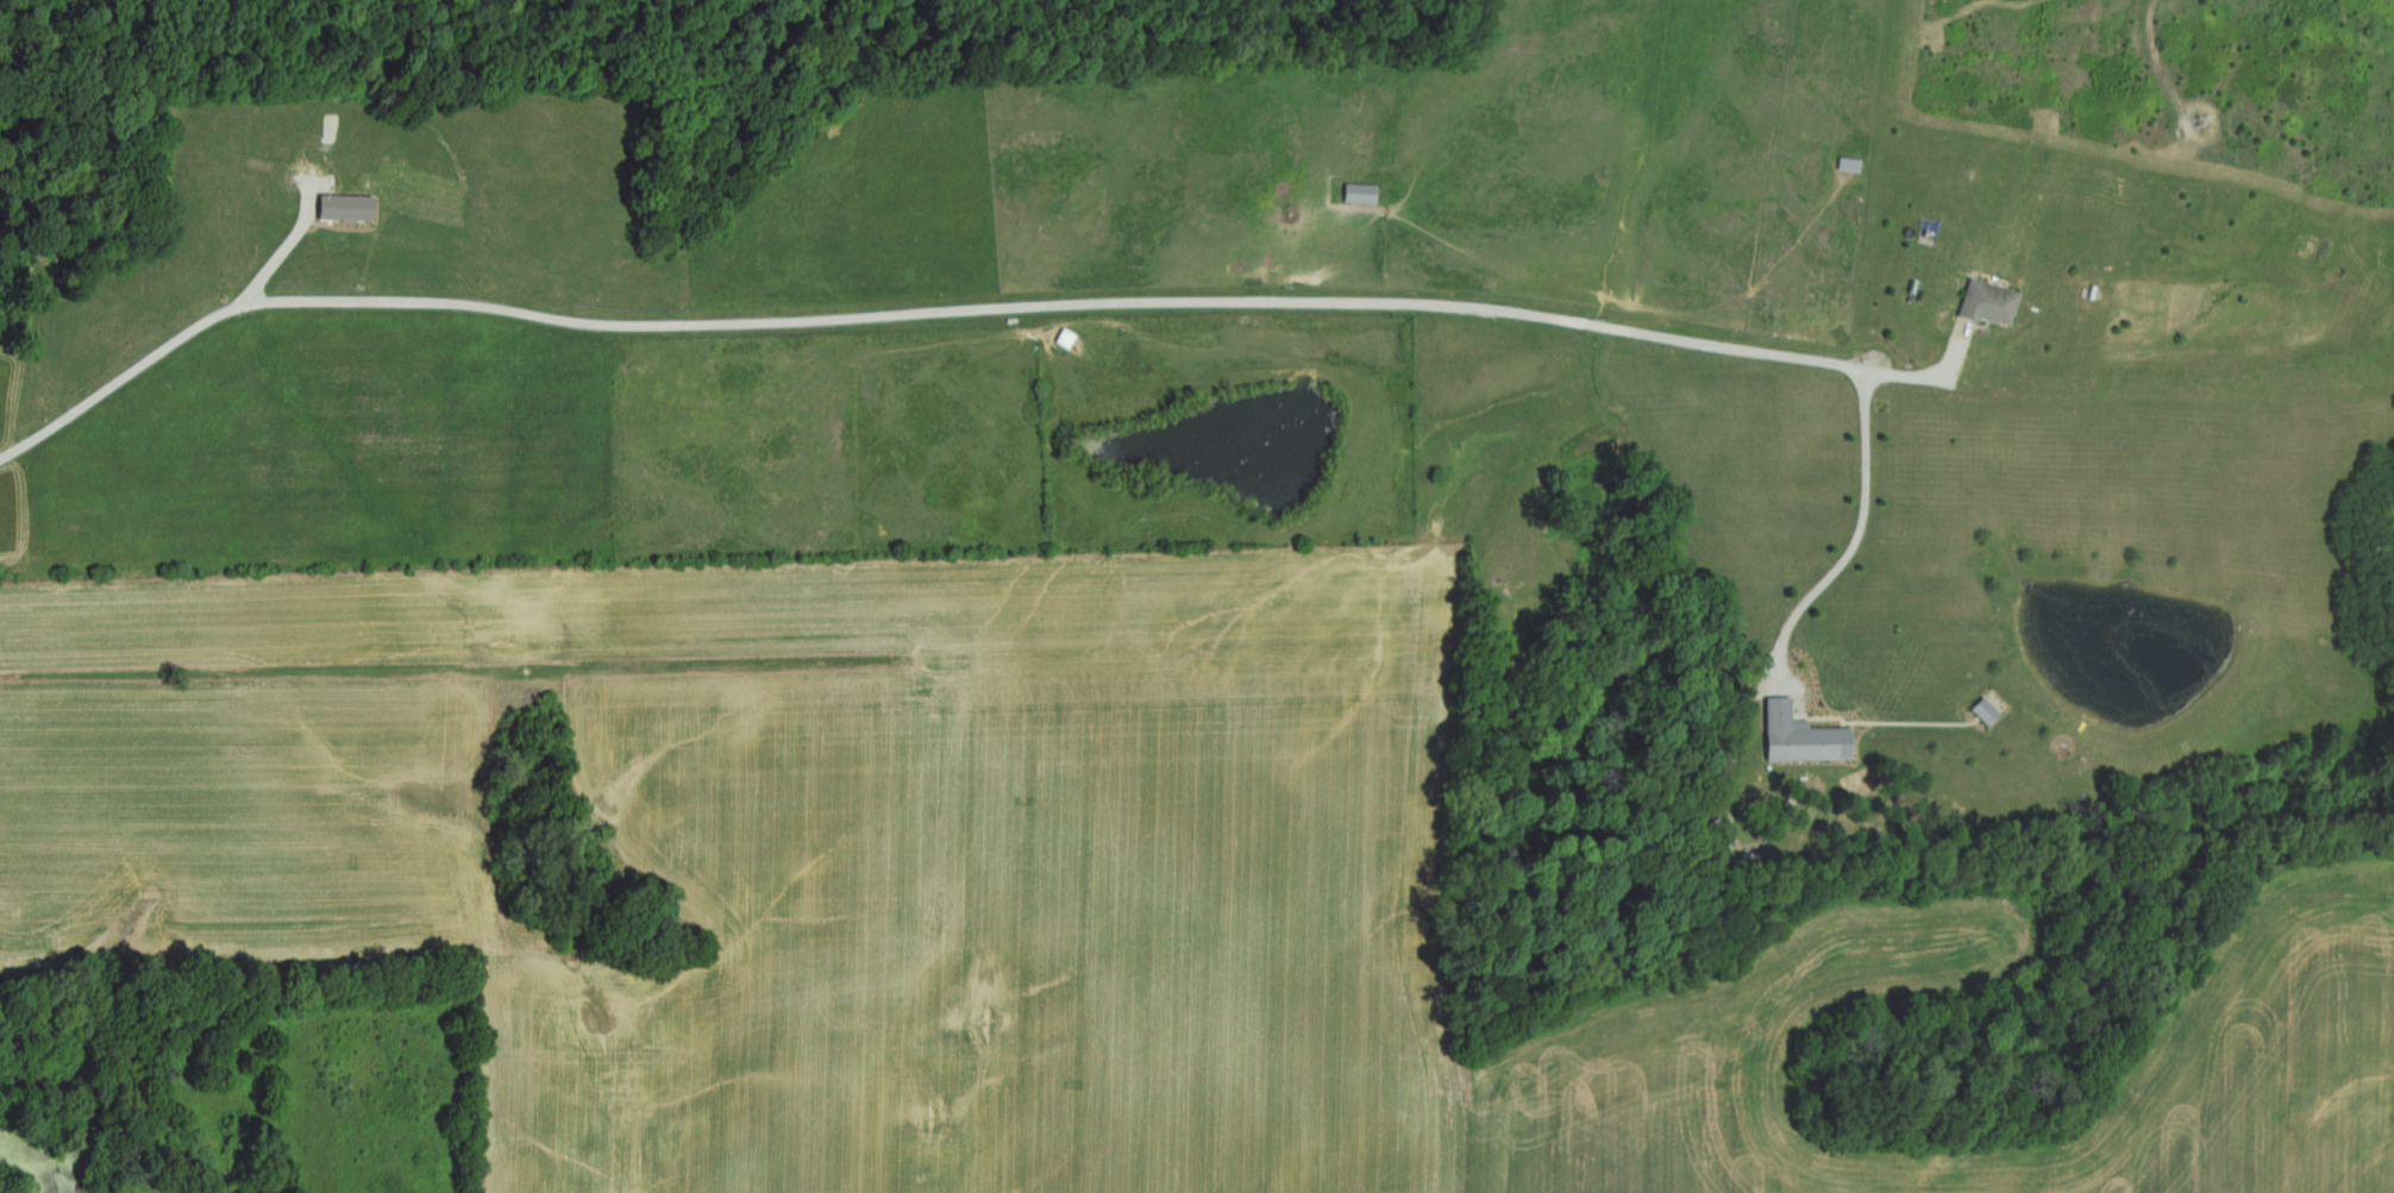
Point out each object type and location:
building: (350, 208)
building: (1993, 302)
road: (917, 316)
road: (1861, 533)
building: (1989, 712)
building: (1806, 737)

